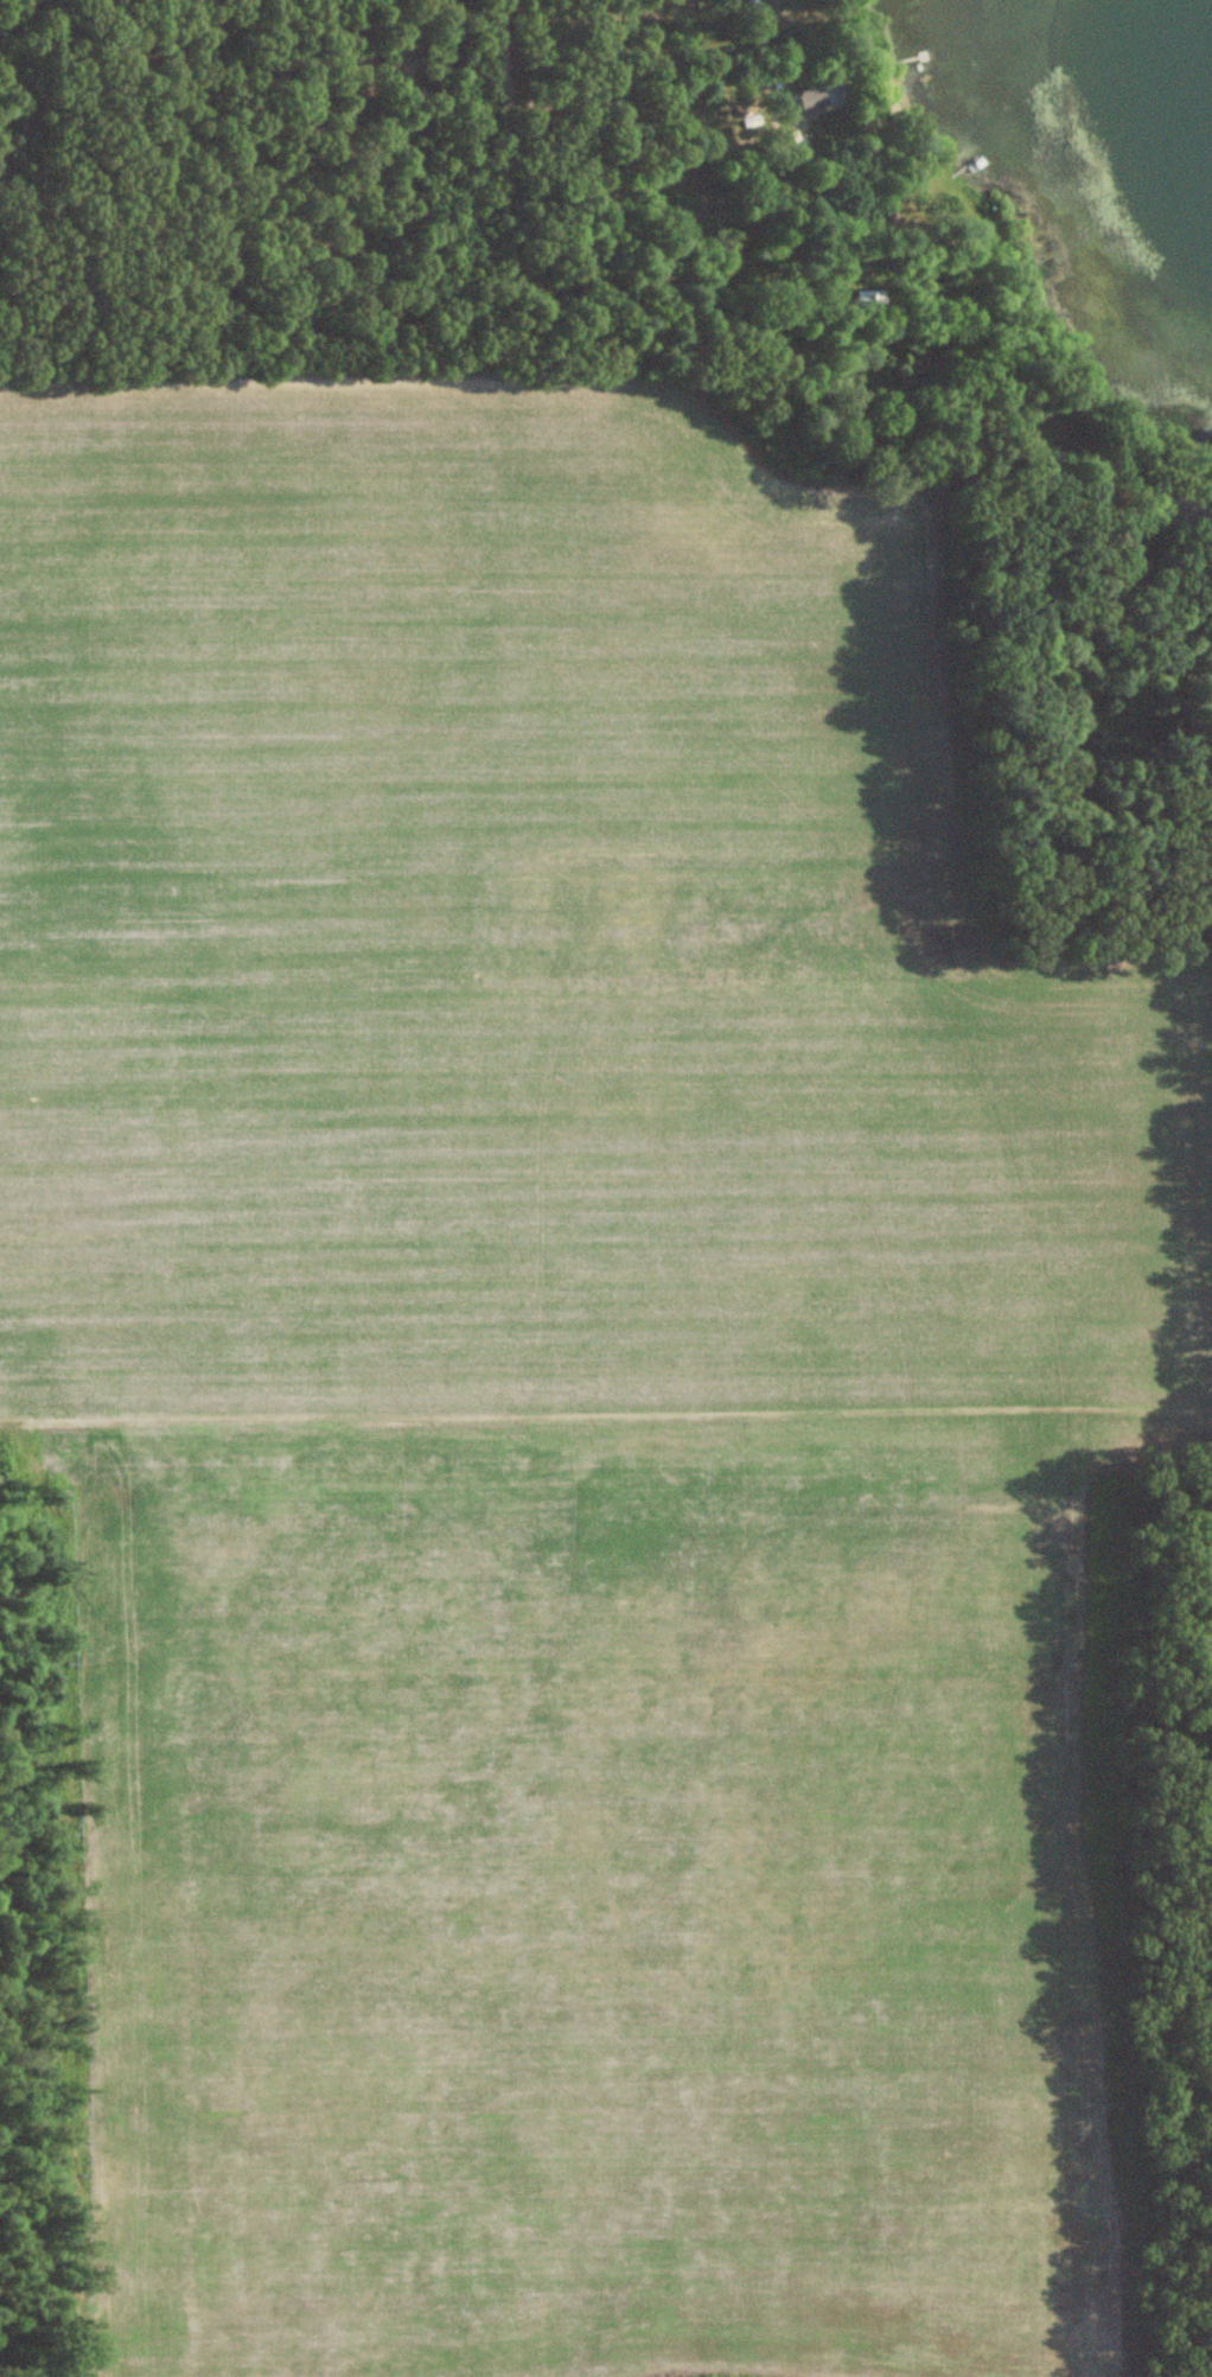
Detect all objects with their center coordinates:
building: (755, 23)
road: (538, 283)
building: (870, 302)
building: (1179, 533)
building: (1211, 536)
road: (531, 557)

